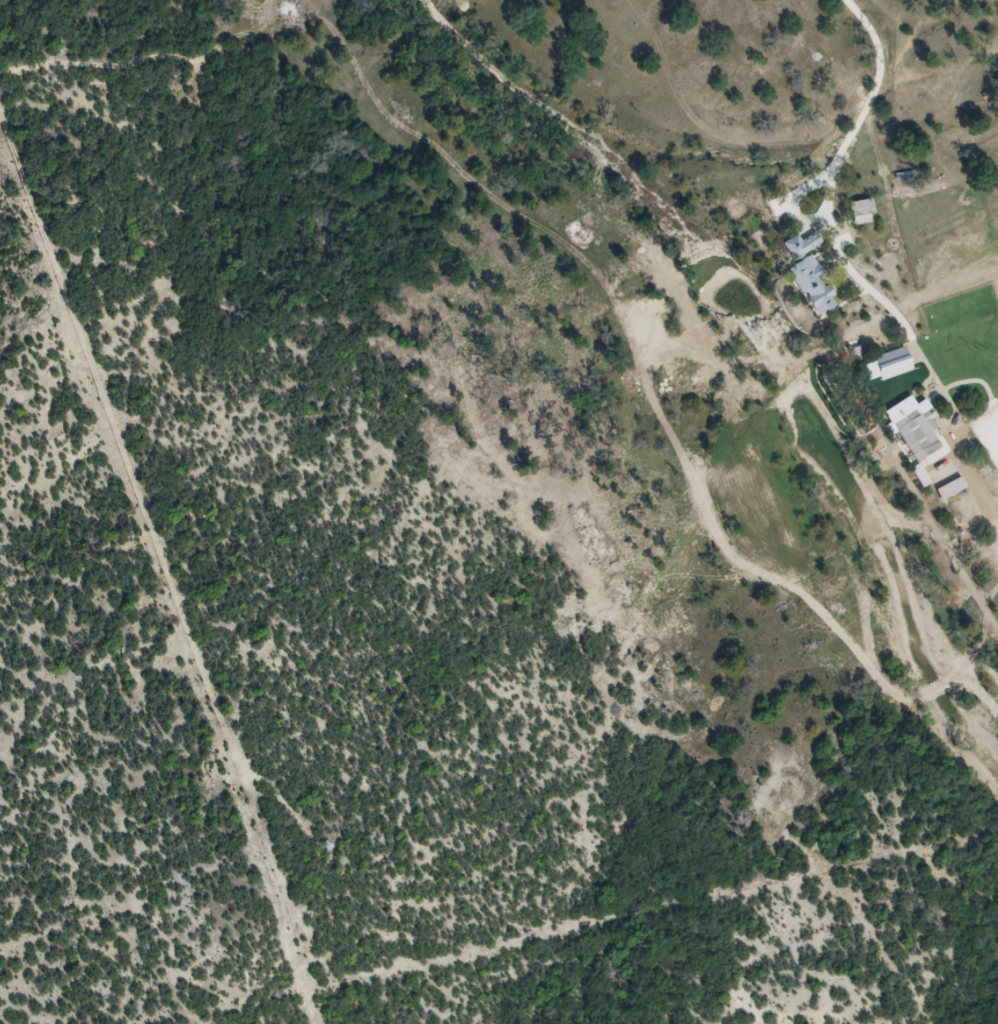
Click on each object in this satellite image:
road: (797, 200)
building: (864, 212)
road: (836, 239)
building: (812, 272)
building: (895, 362)
road: (909, 383)
building: (919, 429)
parking lot: (989, 430)
road: (965, 466)
building: (953, 488)
road: (992, 501)
road: (990, 505)

